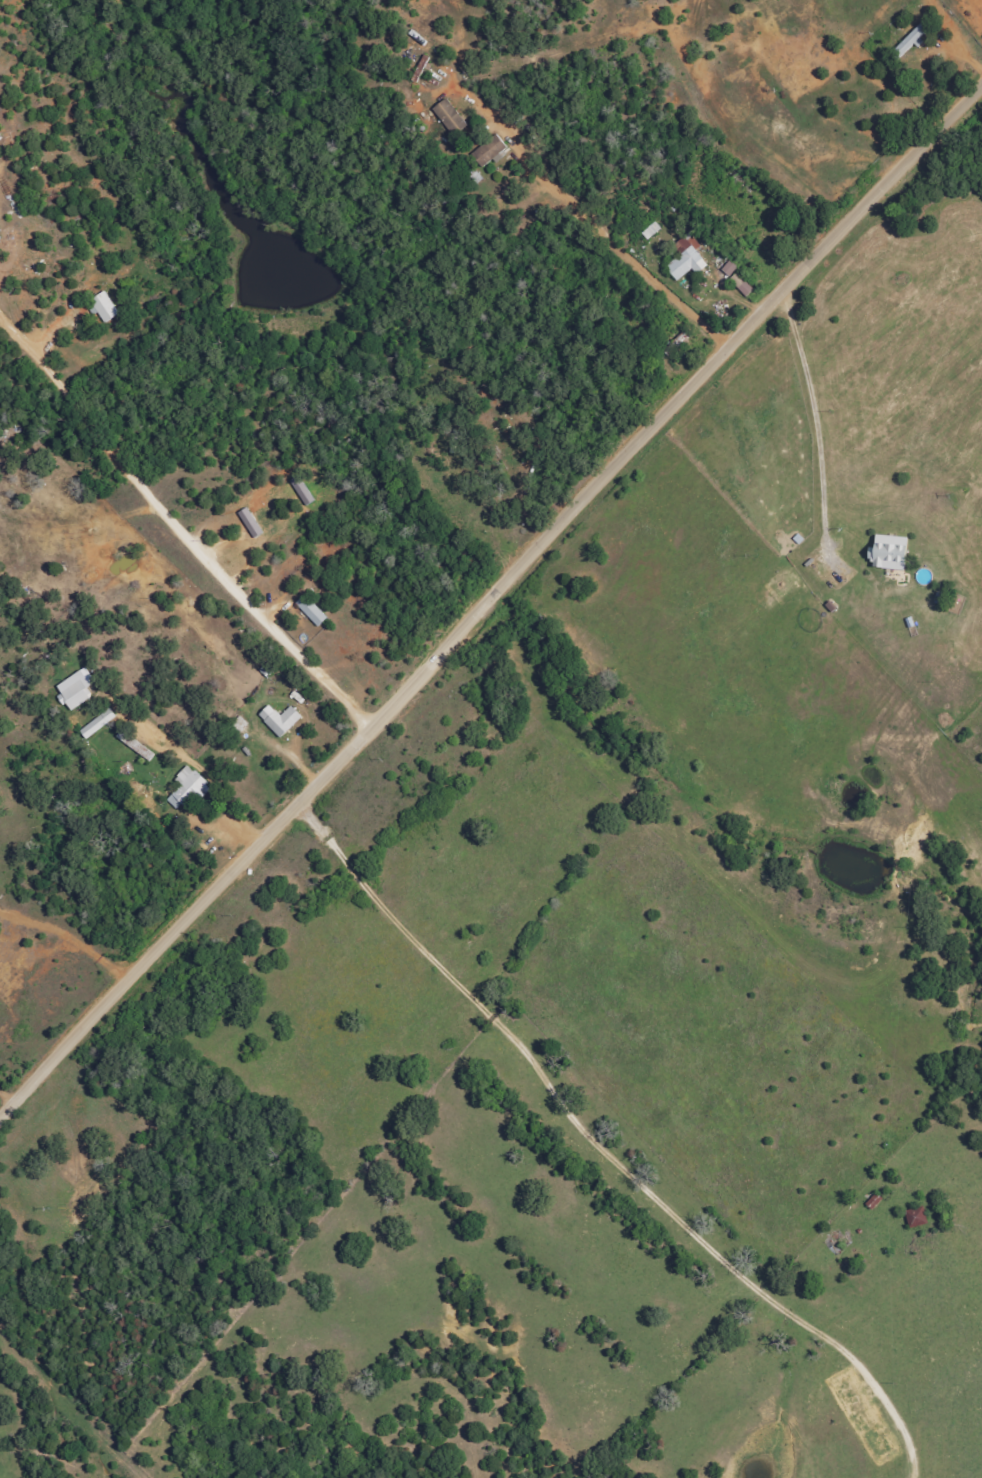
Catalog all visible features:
building: (911, 41)
road: (779, 102)
road: (170, 106)
building: (452, 116)
building: (492, 150)
building: (653, 230)
building: (688, 257)
building: (732, 268)
road: (739, 273)
road: (425, 279)
building: (743, 284)
building: (107, 307)
road: (178, 528)
building: (893, 553)
road: (488, 599)
building: (313, 610)
road: (693, 621)
building: (78, 689)
building: (283, 719)
building: (100, 723)
building: (190, 787)
building: (918, 1216)

